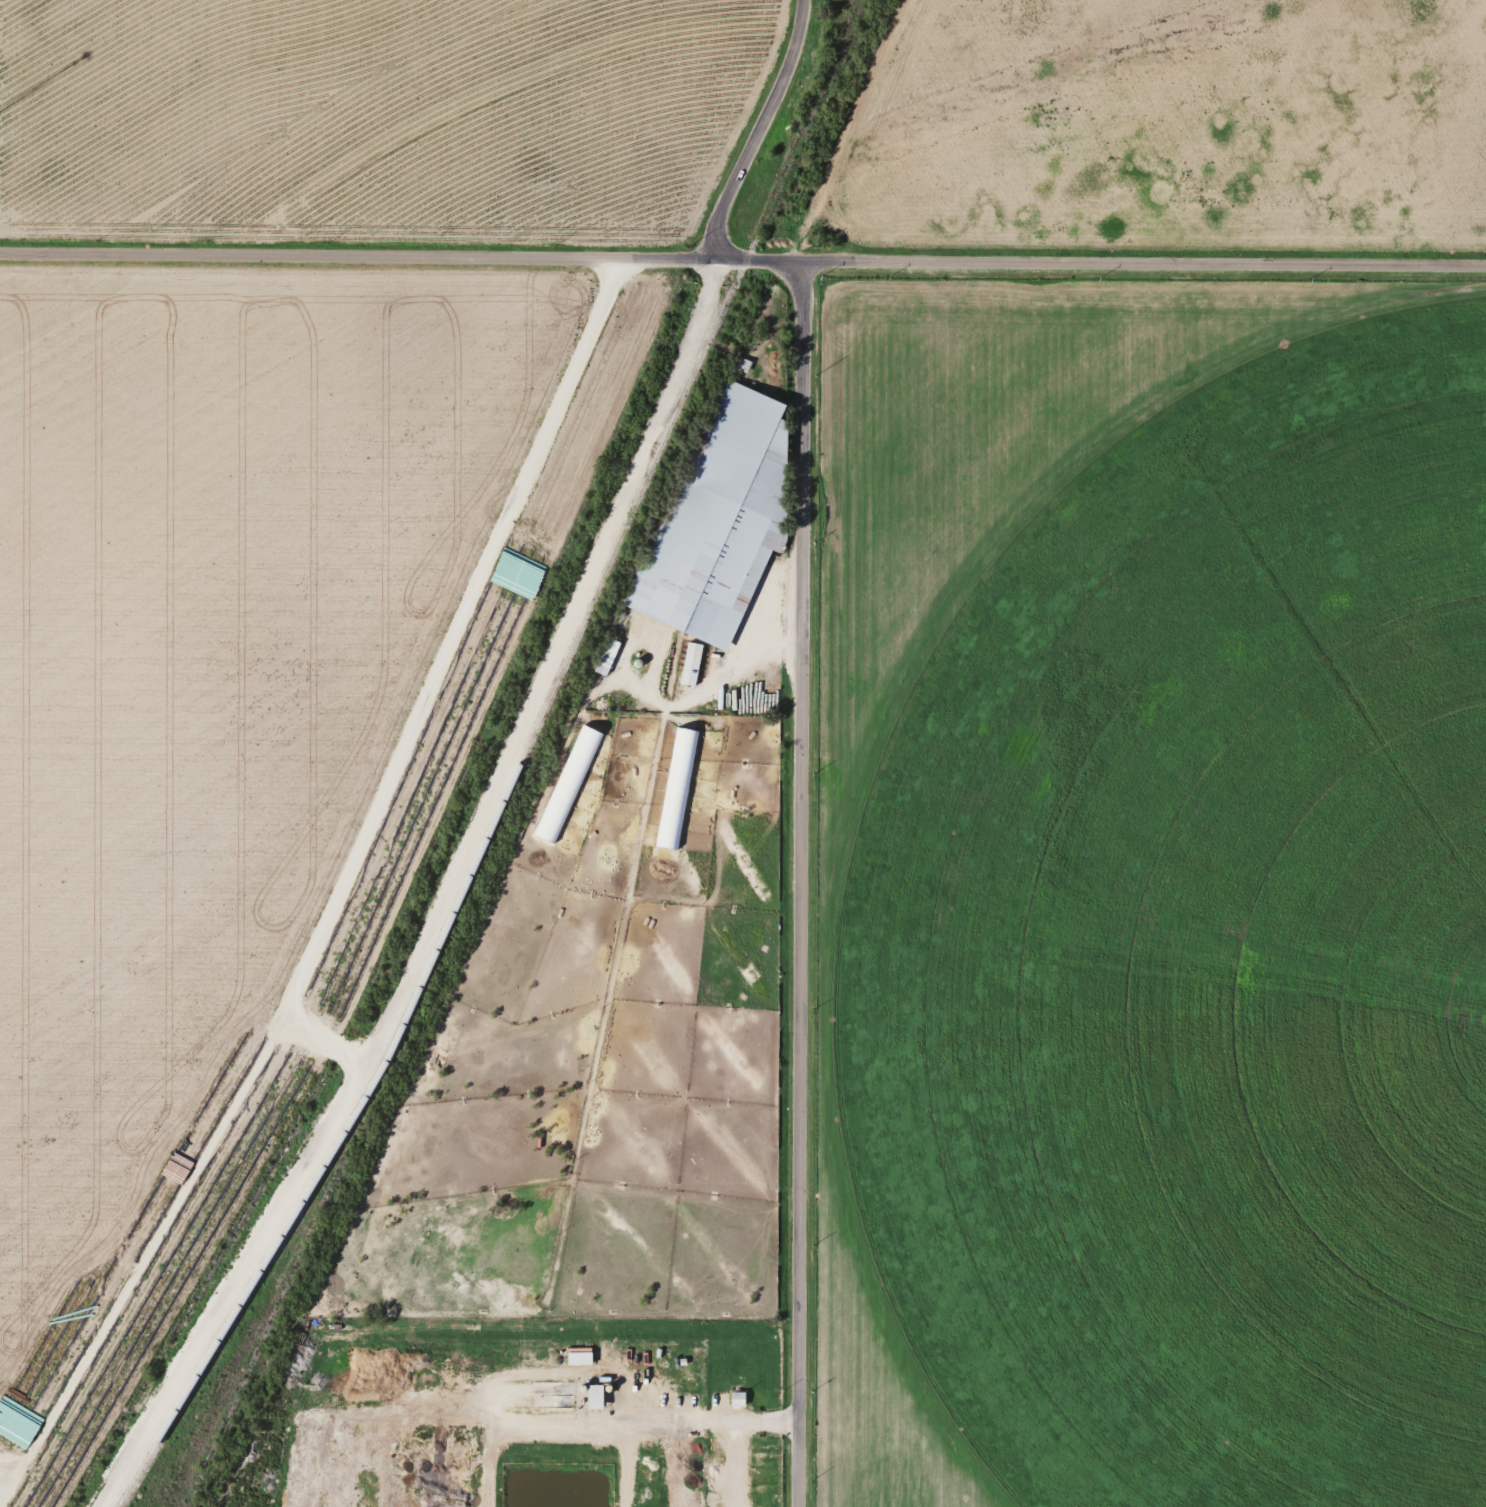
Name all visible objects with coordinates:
road: (755, 130)
road: (742, 261)
building: (719, 517)
railway: (620, 532)
building: (606, 656)
building: (689, 663)
building: (567, 784)
building: (676, 788)
road: (797, 885)
railway: (247, 1286)
railway: (281, 1286)
railway: (297, 1294)
building: (578, 1356)
building: (596, 1396)
building: (737, 1399)

